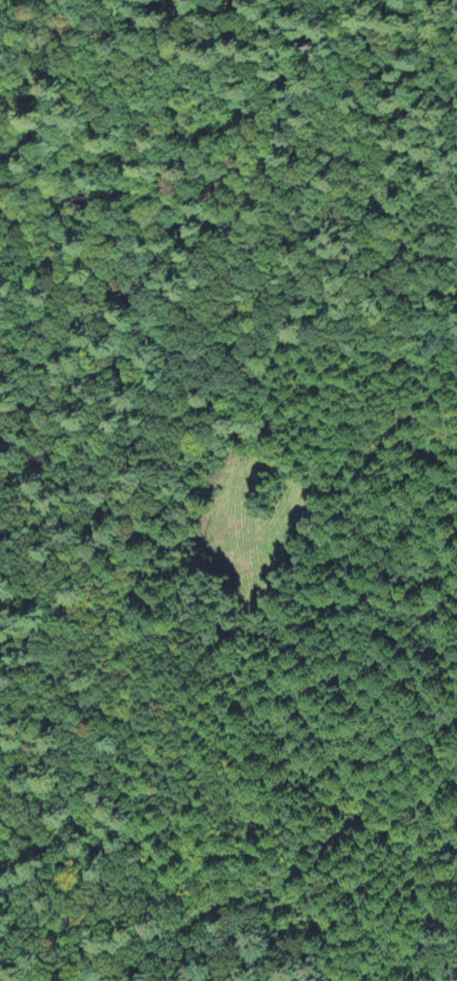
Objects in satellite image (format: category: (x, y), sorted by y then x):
road: (302, 734)

